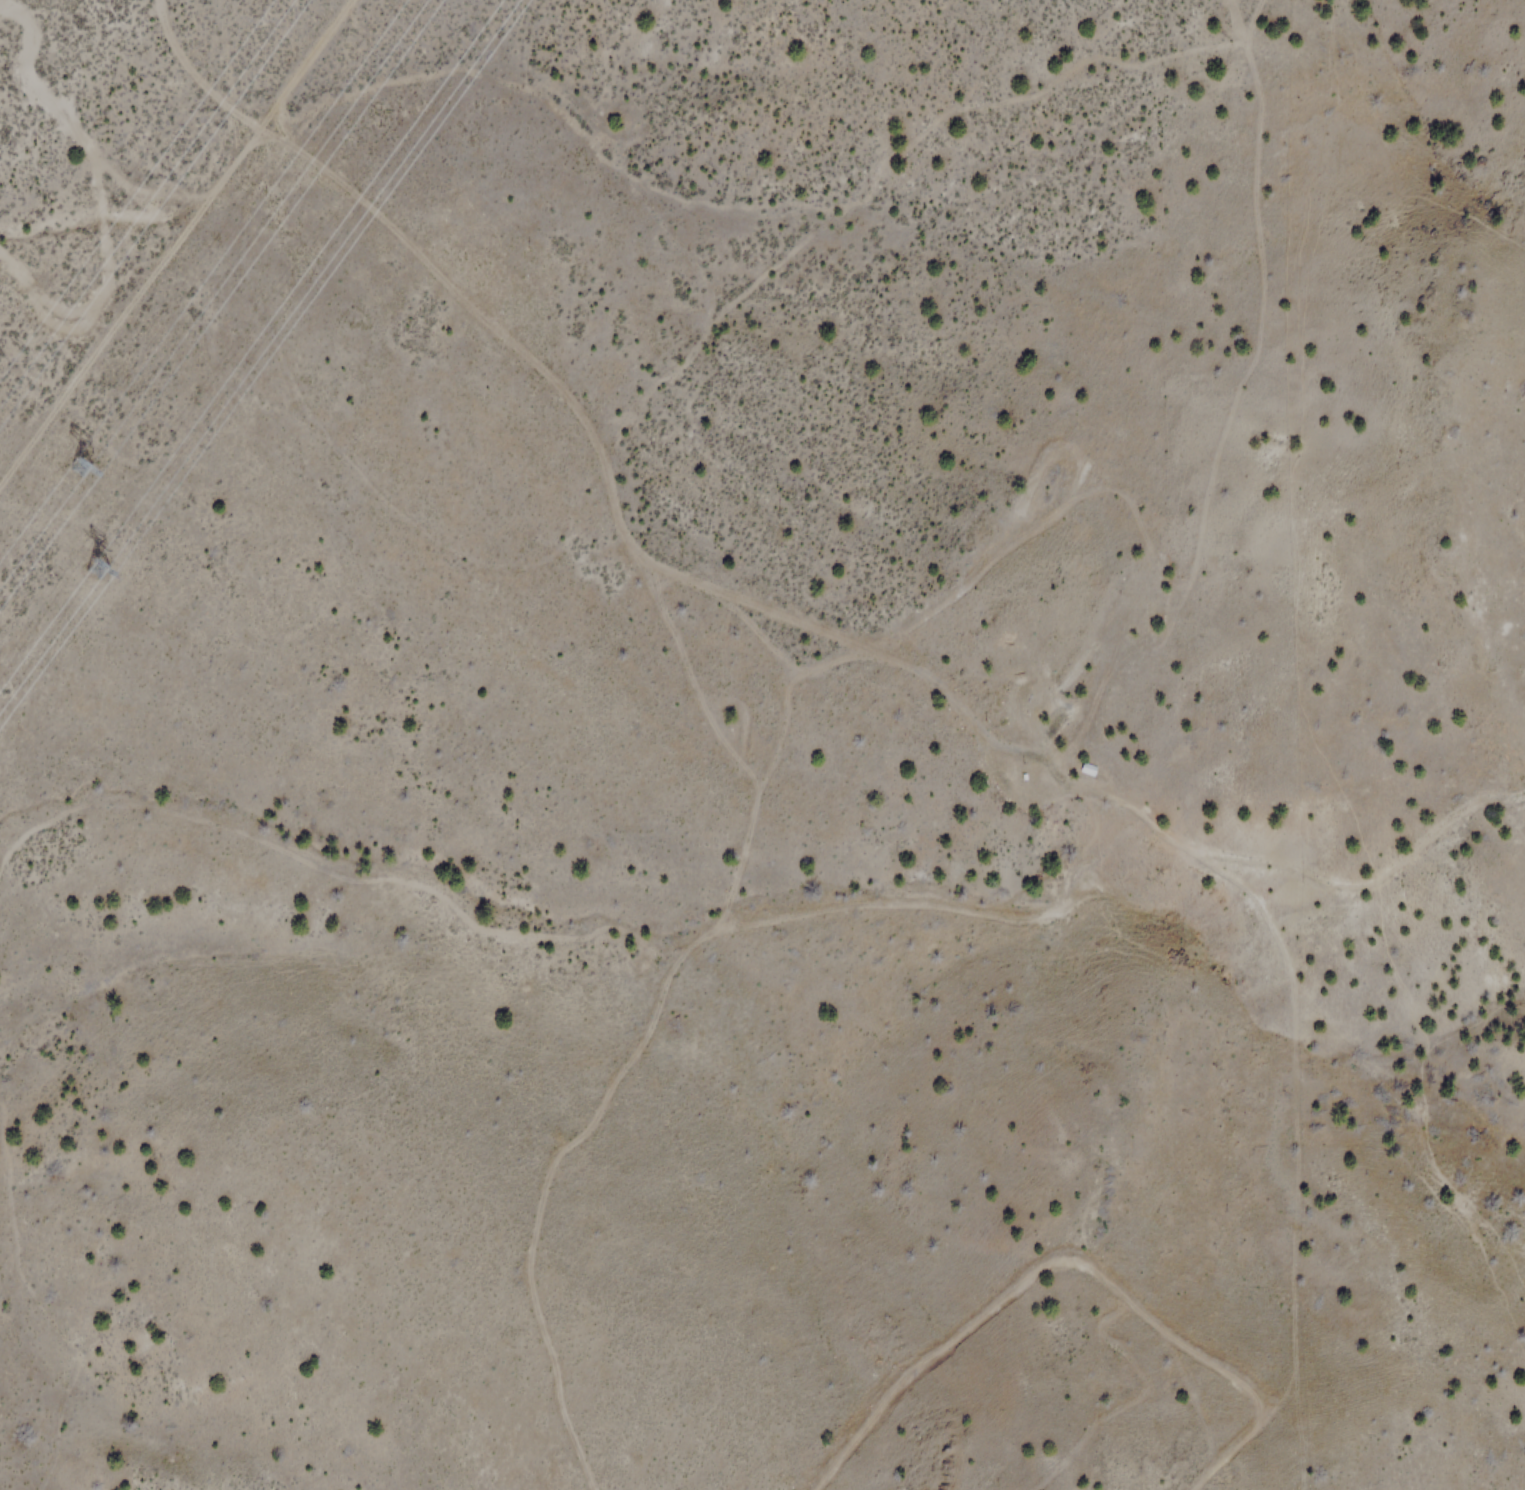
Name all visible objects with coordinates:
power tower: (89, 456)
power tower: (104, 566)
building: (1053, 712)
building: (1085, 771)

